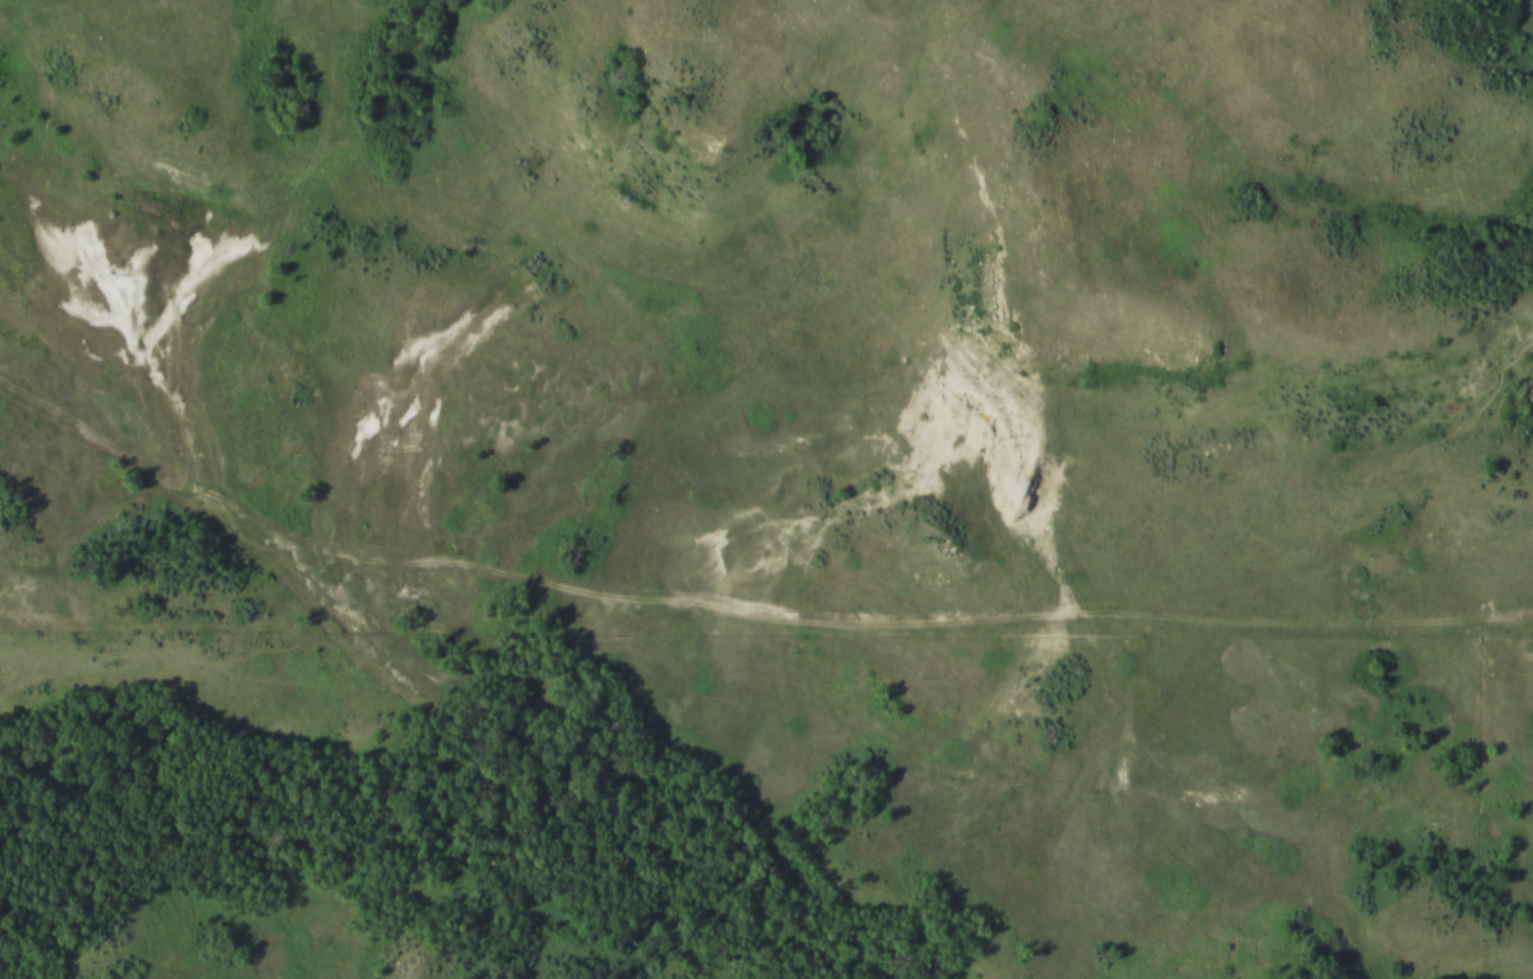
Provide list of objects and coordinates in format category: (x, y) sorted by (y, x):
road: (743, 617)

